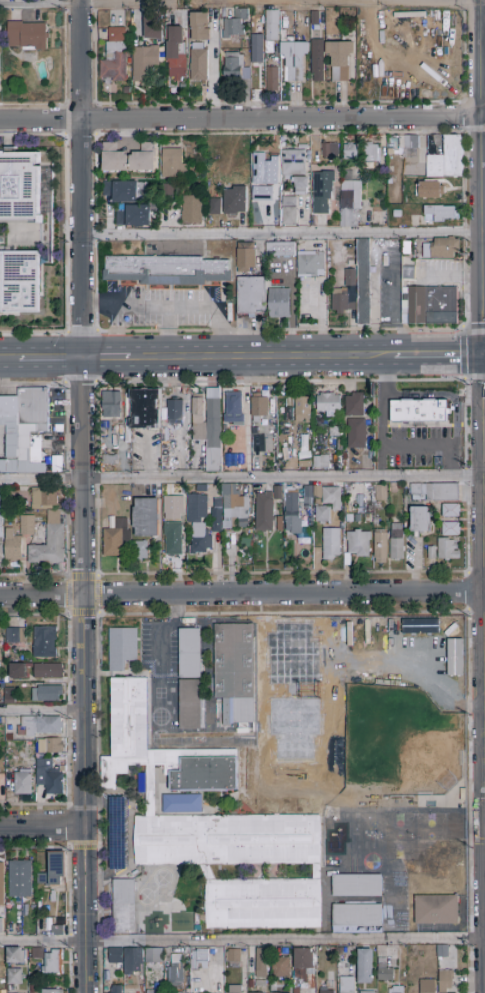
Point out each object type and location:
road: (240, 2)
road: (483, 2)
building: (115, 16)
building: (318, 21)
building: (235, 25)
building: (273, 26)
building: (152, 27)
building: (200, 27)
building: (27, 35)
building: (257, 50)
building: (176, 54)
building: (114, 56)
building: (318, 60)
building: (341, 60)
building: (144, 62)
building: (199, 62)
building: (294, 62)
building: (233, 67)
building: (272, 80)
road: (241, 120)
road: (483, 125)
building: (410, 142)
building: (330, 151)
building: (351, 151)
building: (371, 154)
building: (114, 158)
building: (144, 159)
building: (447, 160)
building: (174, 164)
building: (259, 168)
road: (482, 177)
building: (287, 179)
building: (294, 183)
building: (20, 186)
building: (430, 190)
building: (120, 191)
building: (322, 193)
building: (258, 195)
building: (235, 200)
building: (350, 204)
building: (215, 206)
building: (191, 210)
building: (441, 213)
building: (133, 216)
road: (282, 232)
building: (280, 249)
building: (441, 249)
building: (246, 257)
building: (310, 263)
building: (166, 270)
building: (407, 271)
building: (20, 282)
building: (365, 284)
building: (345, 294)
building: (251, 296)
building: (279, 304)
building: (432, 305)
road: (170, 306)
road: (166, 332)
road: (461, 340)
road: (430, 355)
road: (476, 355)
traffic signals: (483, 355)
road: (484, 355)
road: (261, 356)
road: (106, 358)
road: (9, 359)
road: (50, 359)
road: (382, 376)
road: (474, 379)
road: (79, 382)
road: (279, 382)
road: (444, 395)
building: (328, 403)
building: (112, 405)
building: (259, 406)
building: (234, 408)
building: (144, 409)
building: (302, 410)
building: (419, 411)
building: (175, 412)
building: (285, 412)
building: (355, 421)
road: (464, 423)
building: (208, 426)
road: (65, 427)
road: (95, 427)
building: (24, 430)
road: (381, 437)
building: (259, 440)
road: (430, 446)
building: (237, 453)
building: (109, 458)
building: (320, 462)
building: (57, 465)
road: (464, 476)
road: (96, 479)
road: (65, 480)
road: (242, 480)
building: (434, 492)
building: (380, 493)
road: (83, 496)
building: (44, 498)
building: (328, 504)
building: (173, 508)
building: (231, 510)
building: (450, 511)
building: (264, 512)
building: (293, 512)
building: (145, 517)
building: (420, 520)
building: (1, 524)
building: (198, 524)
building: (450, 529)
road: (466, 529)
road: (96, 531)
road: (66, 533)
building: (18, 538)
building: (115, 539)
building: (173, 539)
building: (50, 542)
building: (397, 543)
building: (331, 544)
building: (357, 544)
building: (380, 547)
building: (140, 549)
building: (448, 549)
road: (476, 573)
road: (282, 574)
road: (34, 576)
road: (69, 578)
road: (468, 593)
road: (242, 595)
road: (484, 599)
road: (476, 612)
road: (308, 613)
road: (68, 624)
road: (163, 631)
building: (16, 636)
building: (44, 642)
building: (122, 648)
building: (18, 671)
building: (48, 671)
building: (235, 674)
building: (190, 679)
building: (8, 692)
building: (47, 694)
road: (41, 711)
road: (68, 711)
park: (363, 711)
building: (40, 726)
building: (51, 746)
building: (48, 778)
building: (23, 782)
road: (68, 796)
building: (183, 804)
road: (477, 805)
road: (42, 827)
building: (217, 830)
road: (130, 832)
road: (100, 839)
road: (110, 839)
road: (477, 842)
road: (67, 858)
building: (54, 870)
building: (20, 880)
building: (2, 884)
building: (369, 886)
road: (469, 887)
building: (124, 907)
building: (436, 910)
road: (100, 911)
building: (368, 920)
building: (1, 926)
building: (57, 930)
road: (469, 940)
road: (69, 942)
road: (100, 942)
road: (285, 942)
road: (43, 943)
building: (15, 956)
building: (154, 956)
building: (234, 957)
building: (200, 959)
building: (127, 960)
building: (50, 961)
building: (261, 963)
building: (365, 967)
building: (281, 968)
building: (304, 968)
road: (469, 970)
road: (69, 971)
road: (100, 971)
building: (176, 972)
building: (385, 974)
building: (14, 977)
building: (448, 982)
building: (347, 985)
building: (427, 986)
building: (117, 989)
building: (234, 989)
building: (395, 990)
building: (52, 991)
building: (154, 992)
building: (255, 992)
building: (277, 992)
building: (326, 992)
building: (367, 992)

